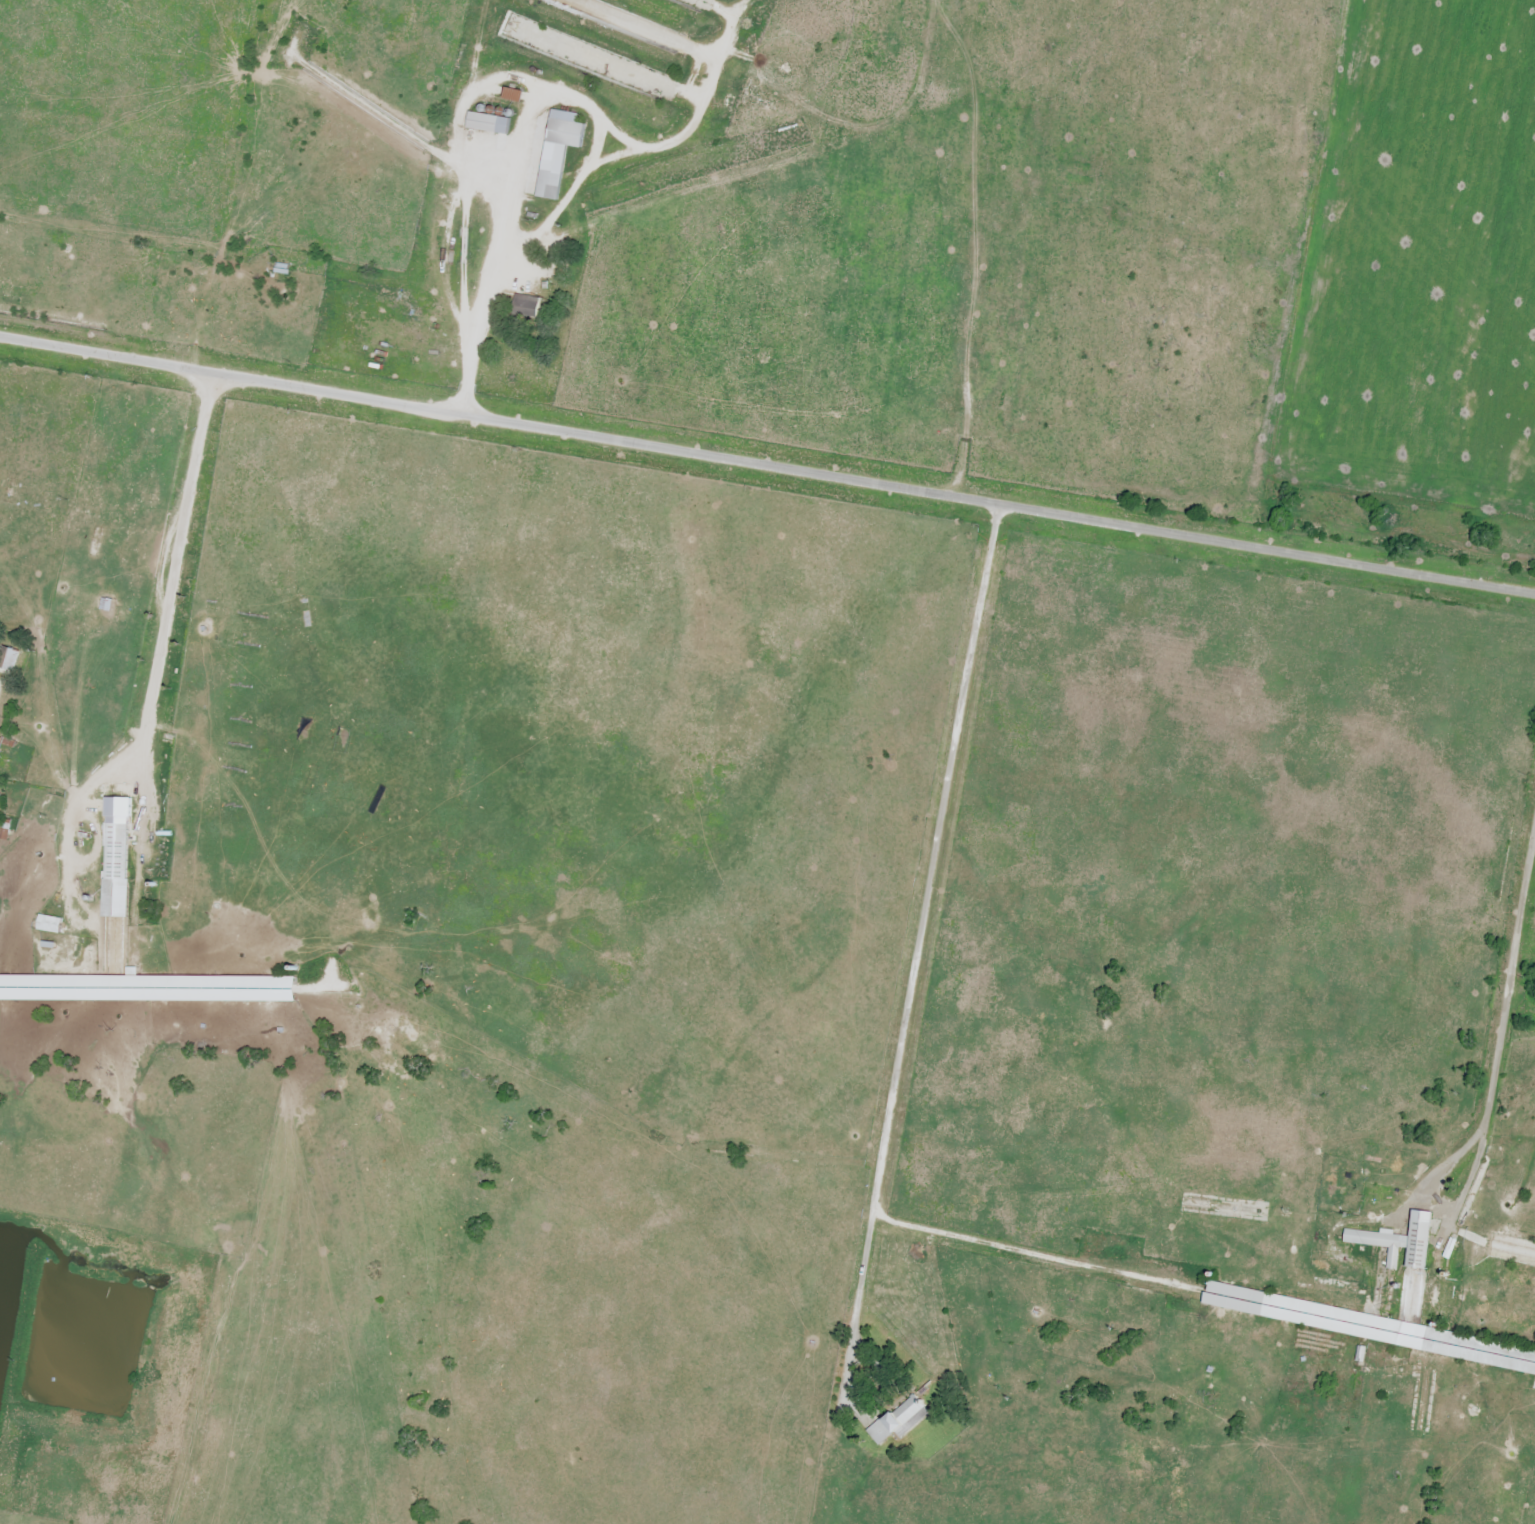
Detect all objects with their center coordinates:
building: (519, 93)
building: (490, 122)
building: (564, 149)
building: (281, 268)
building: (528, 306)
road: (767, 466)
building: (108, 604)
building: (10, 658)
road: (157, 663)
building: (119, 866)
building: (53, 924)
road: (916, 942)
building: (151, 989)
road: (1497, 1040)
building: (1508, 1251)
building: (1397, 1253)
building: (1365, 1328)
building: (895, 1420)

